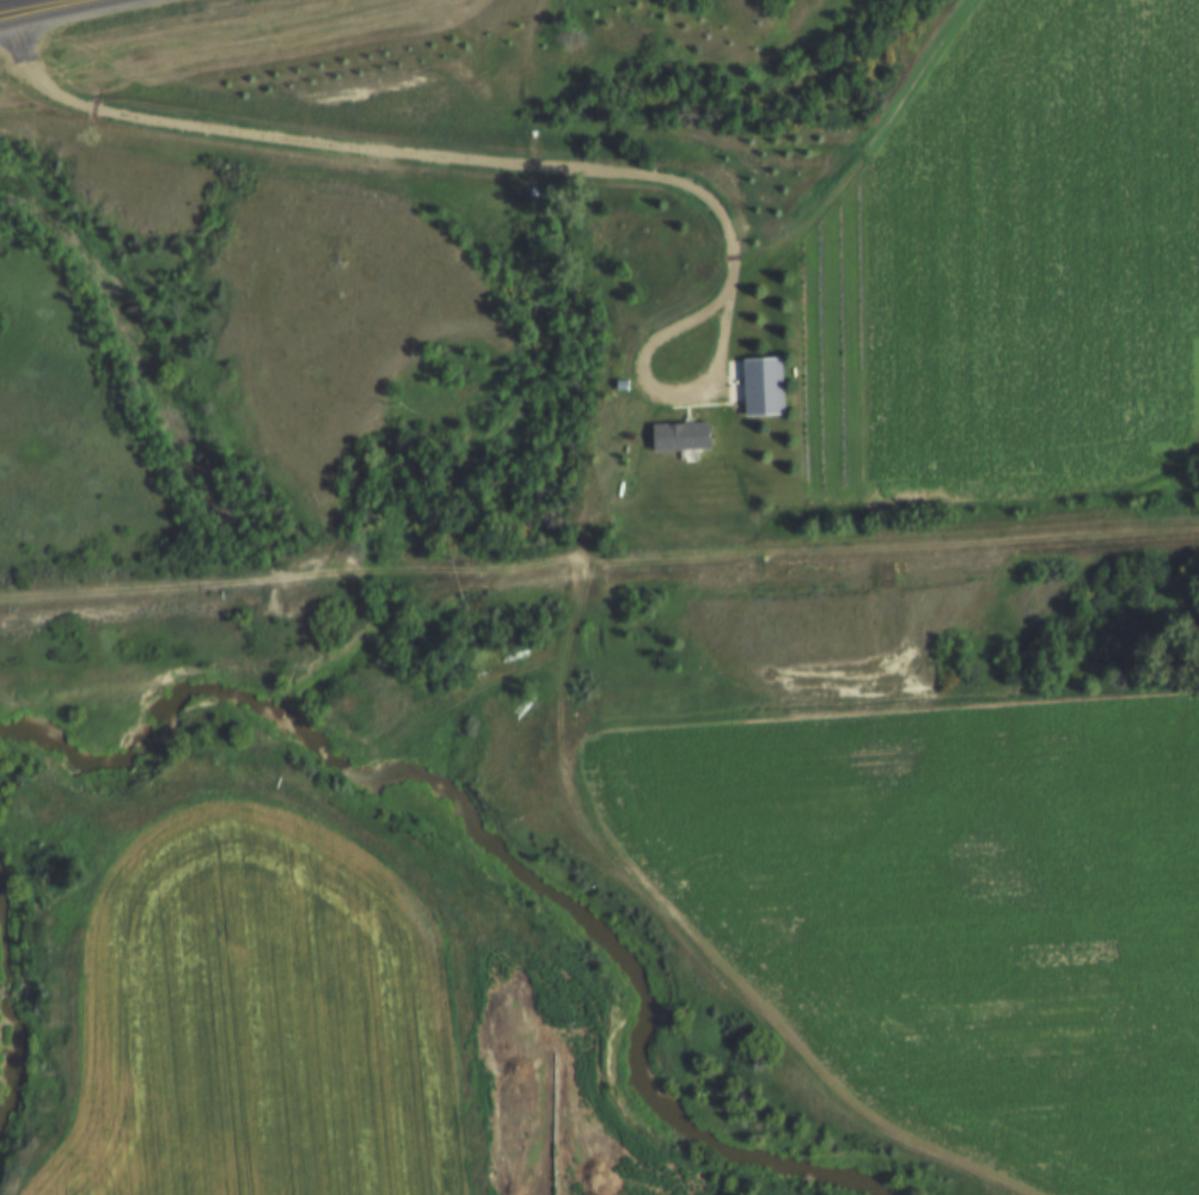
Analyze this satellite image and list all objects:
road: (55, 11)
road: (851, 153)
road: (534, 164)
building: (758, 388)
building: (678, 439)
road: (124, 858)

